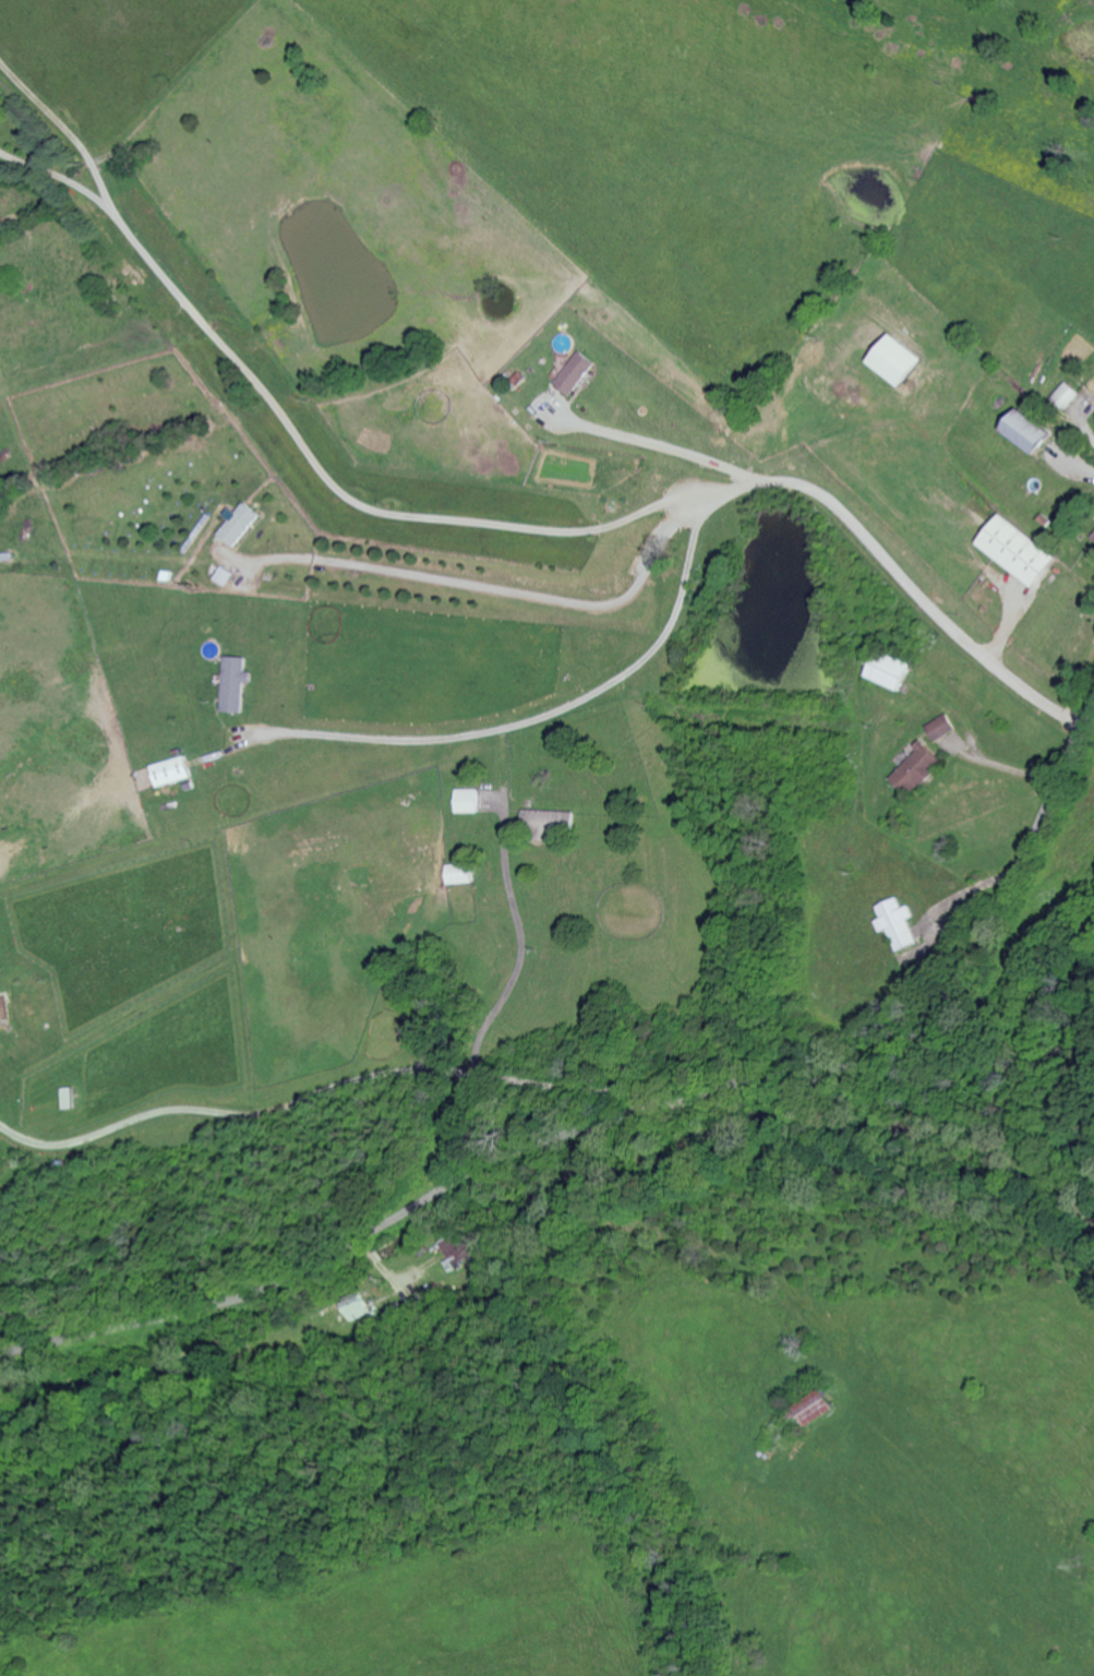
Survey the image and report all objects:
building: (897, 361)
building: (577, 374)
building: (1067, 396)
road: (279, 417)
road: (1084, 428)
building: (1027, 432)
road: (652, 445)
building: (240, 526)
building: (1018, 552)
road: (892, 572)
road: (533, 596)
building: (889, 671)
building: (237, 685)
road: (546, 716)
building: (940, 729)
building: (917, 771)
building: (172, 773)
building: (467, 802)
building: (897, 925)
road: (521, 950)
road: (578, 1088)
building: (67, 1100)
road: (238, 1114)
road: (629, 1117)
building: (456, 1249)
building: (816, 1408)

